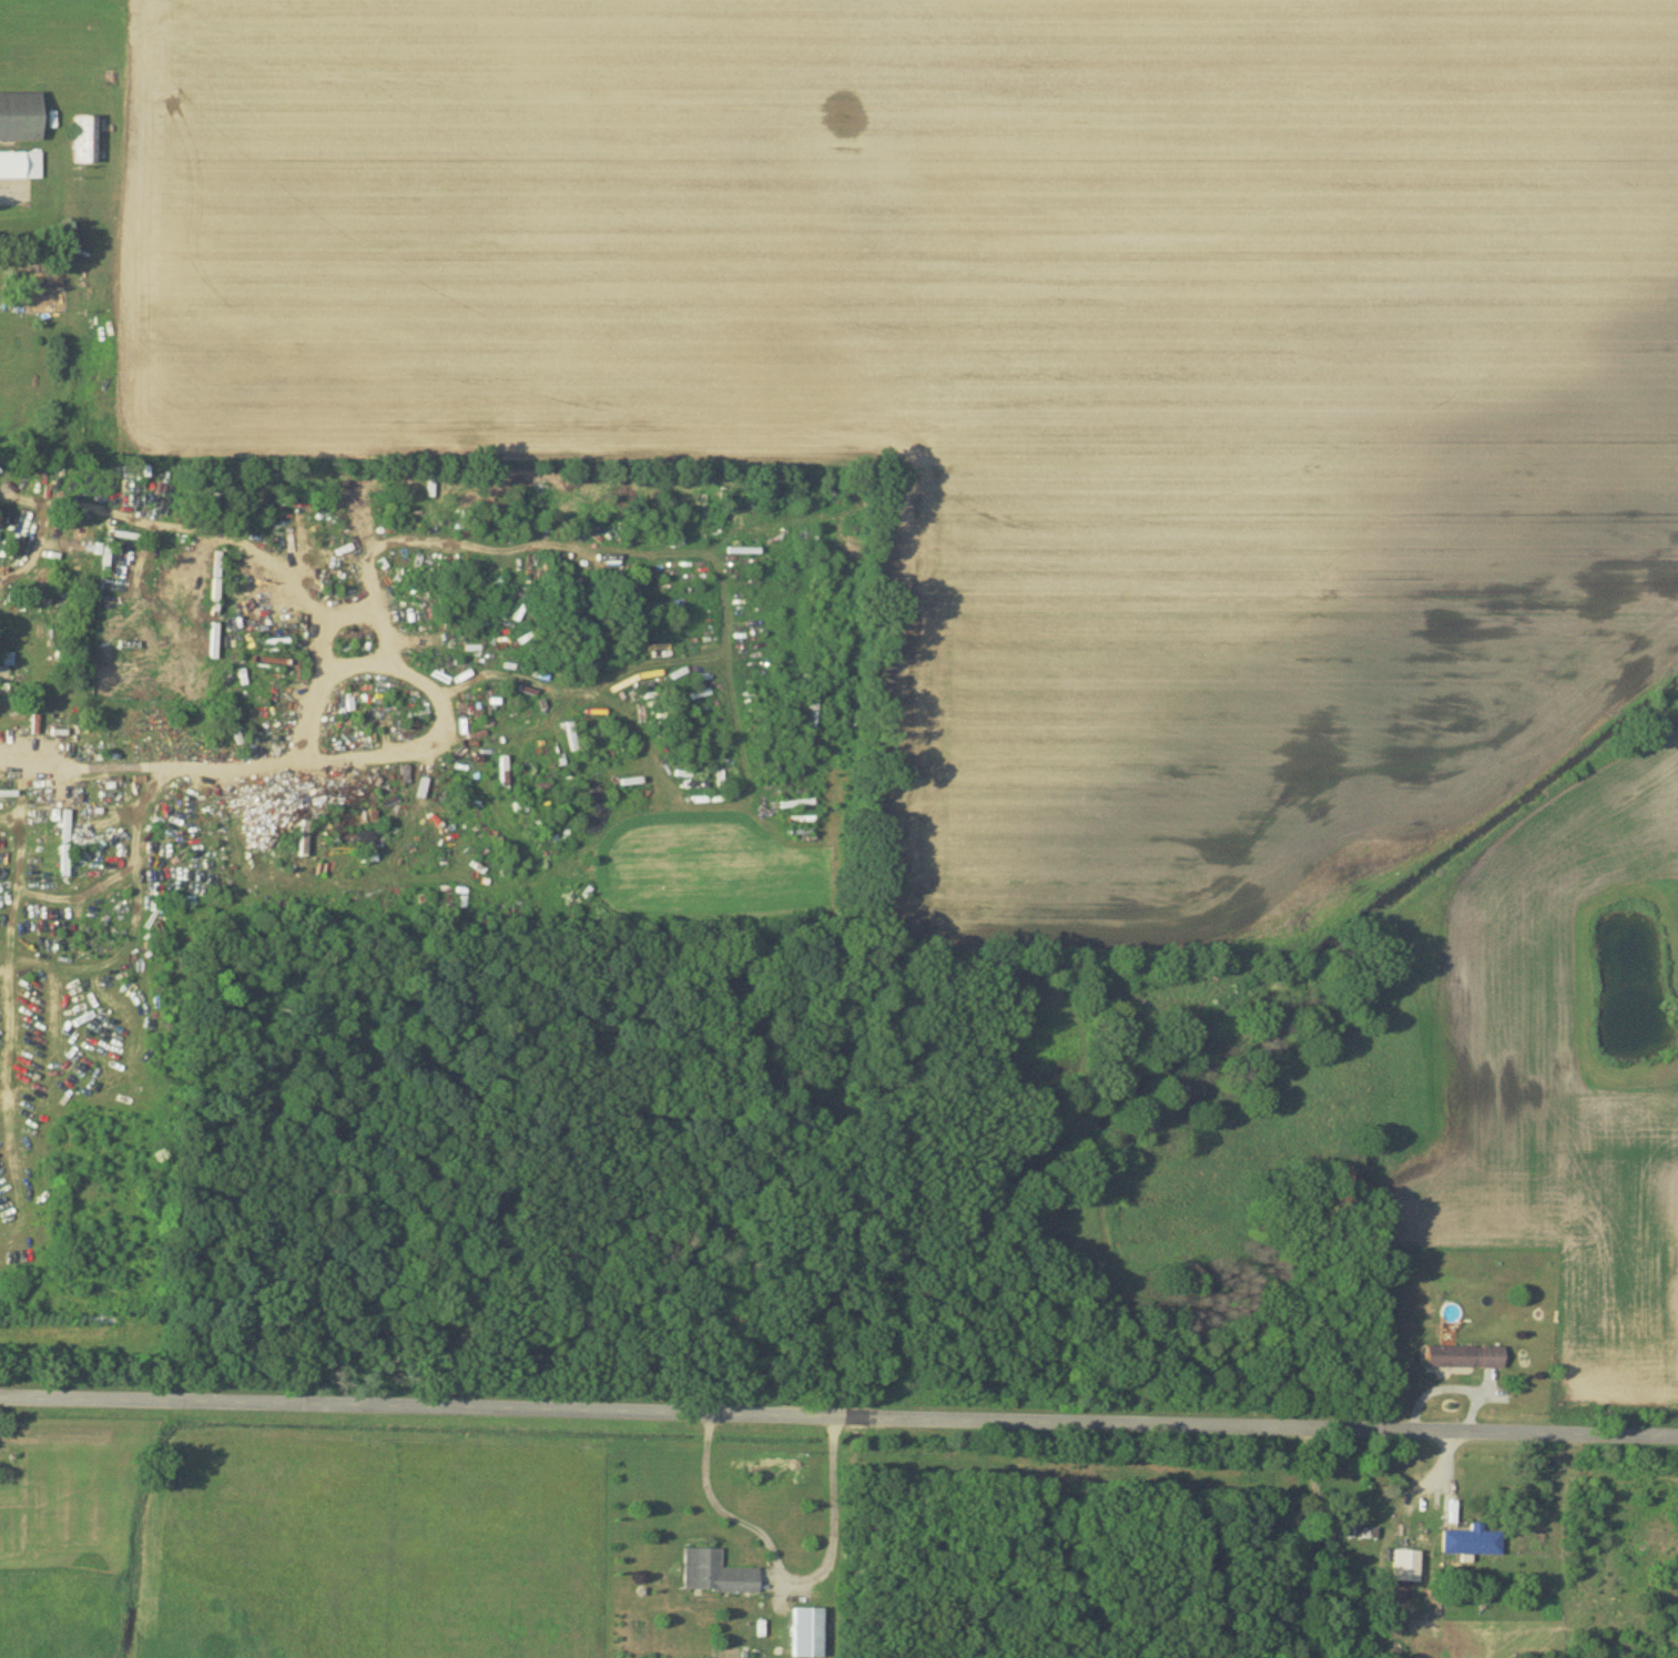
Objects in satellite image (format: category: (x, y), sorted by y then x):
road: (31, 767)
road: (838, 1422)
road: (786, 1576)

